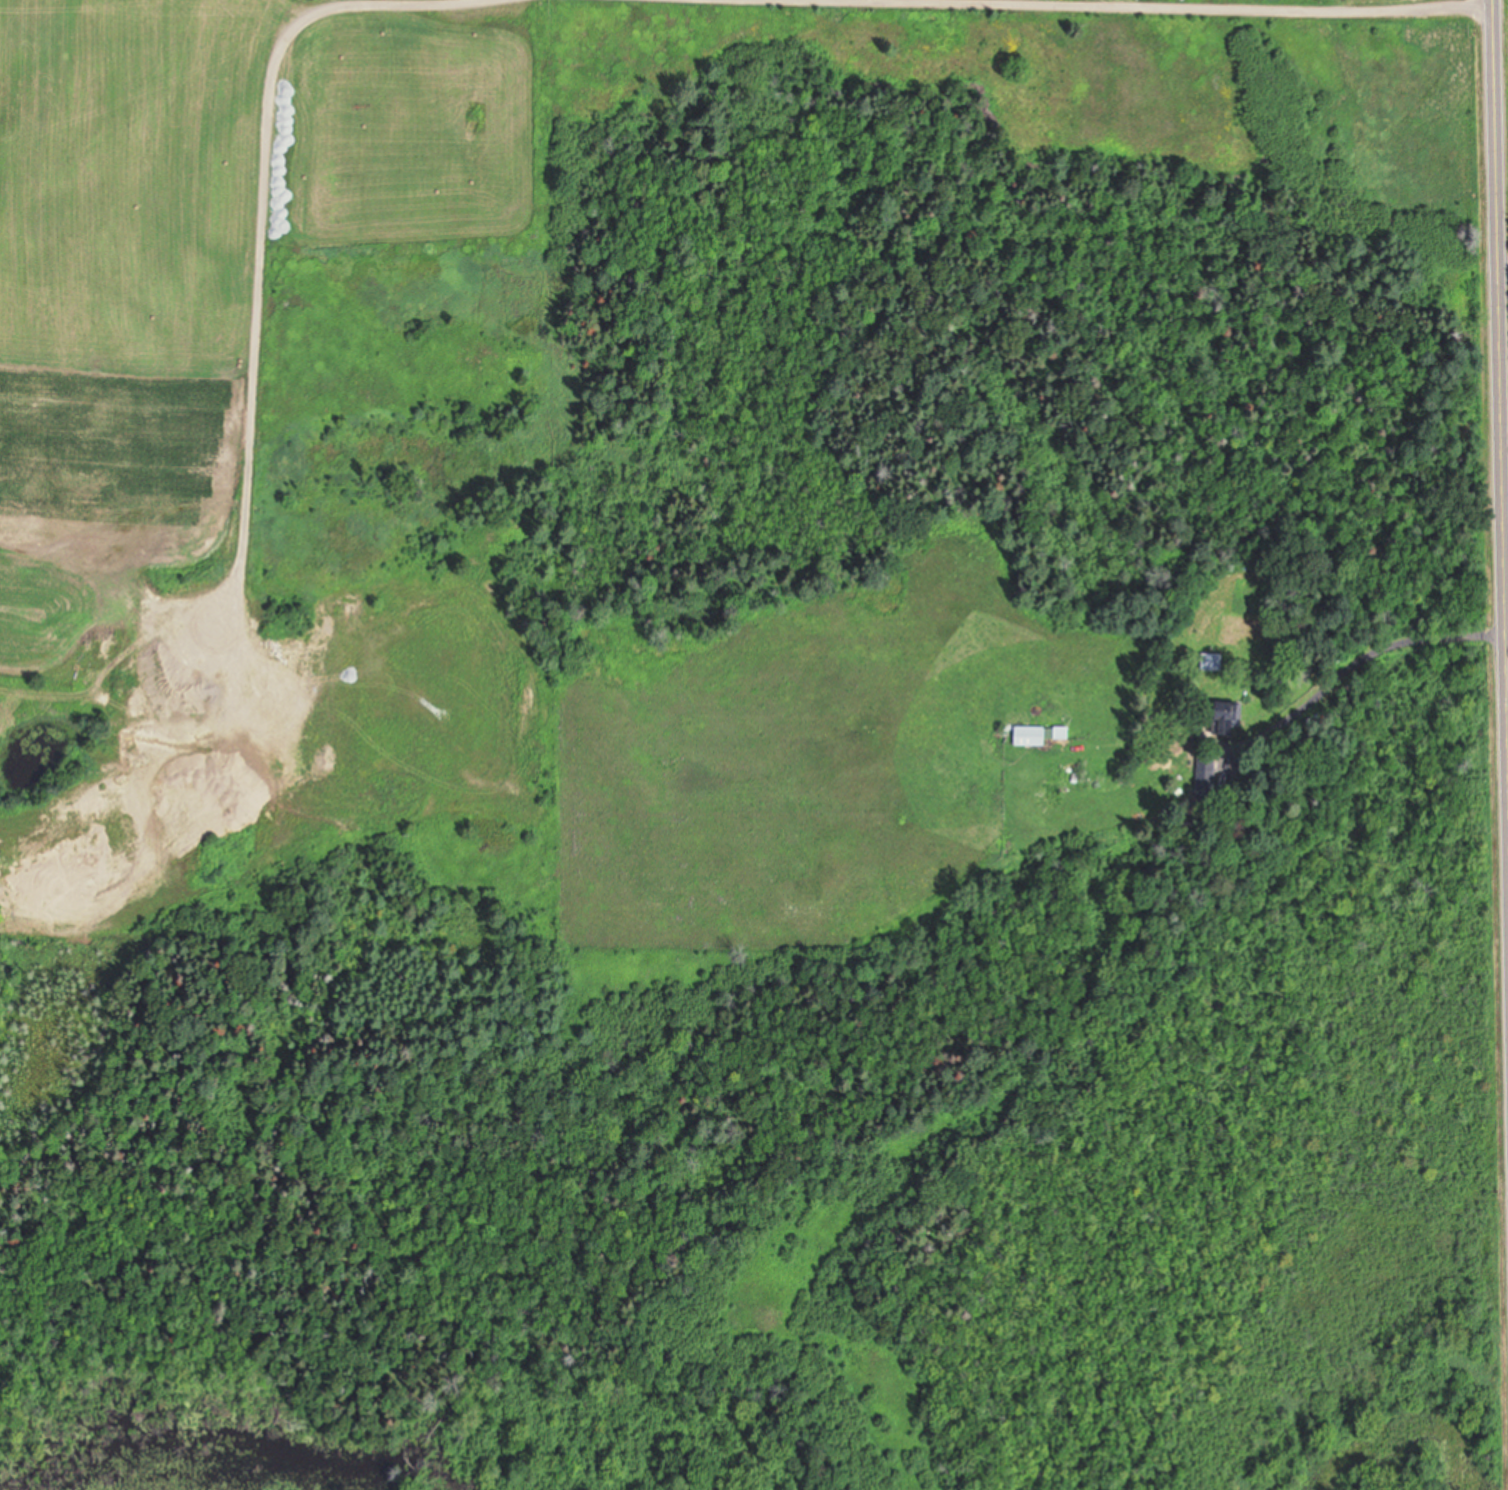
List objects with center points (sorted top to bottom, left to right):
road: (1499, 582)
building: (1213, 659)
building: (1043, 732)
building: (1207, 772)

